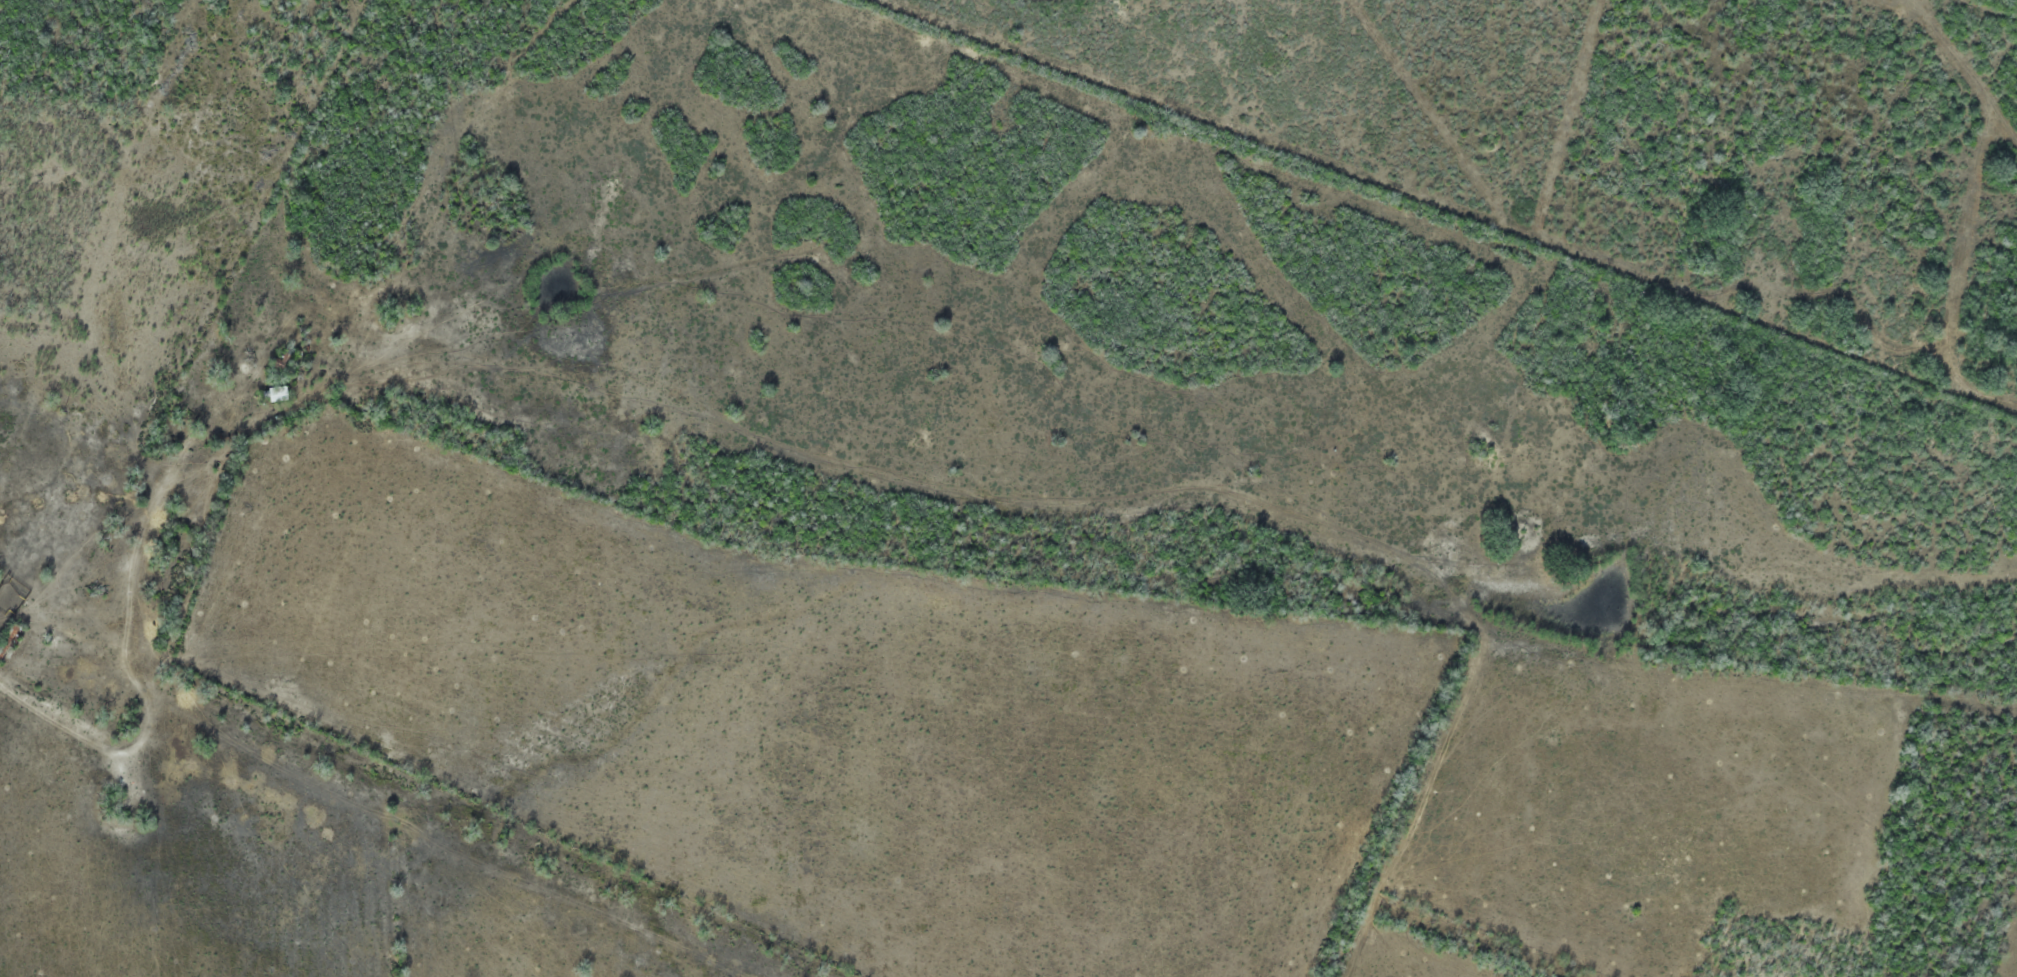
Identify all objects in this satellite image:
building: (278, 393)
road: (128, 645)

